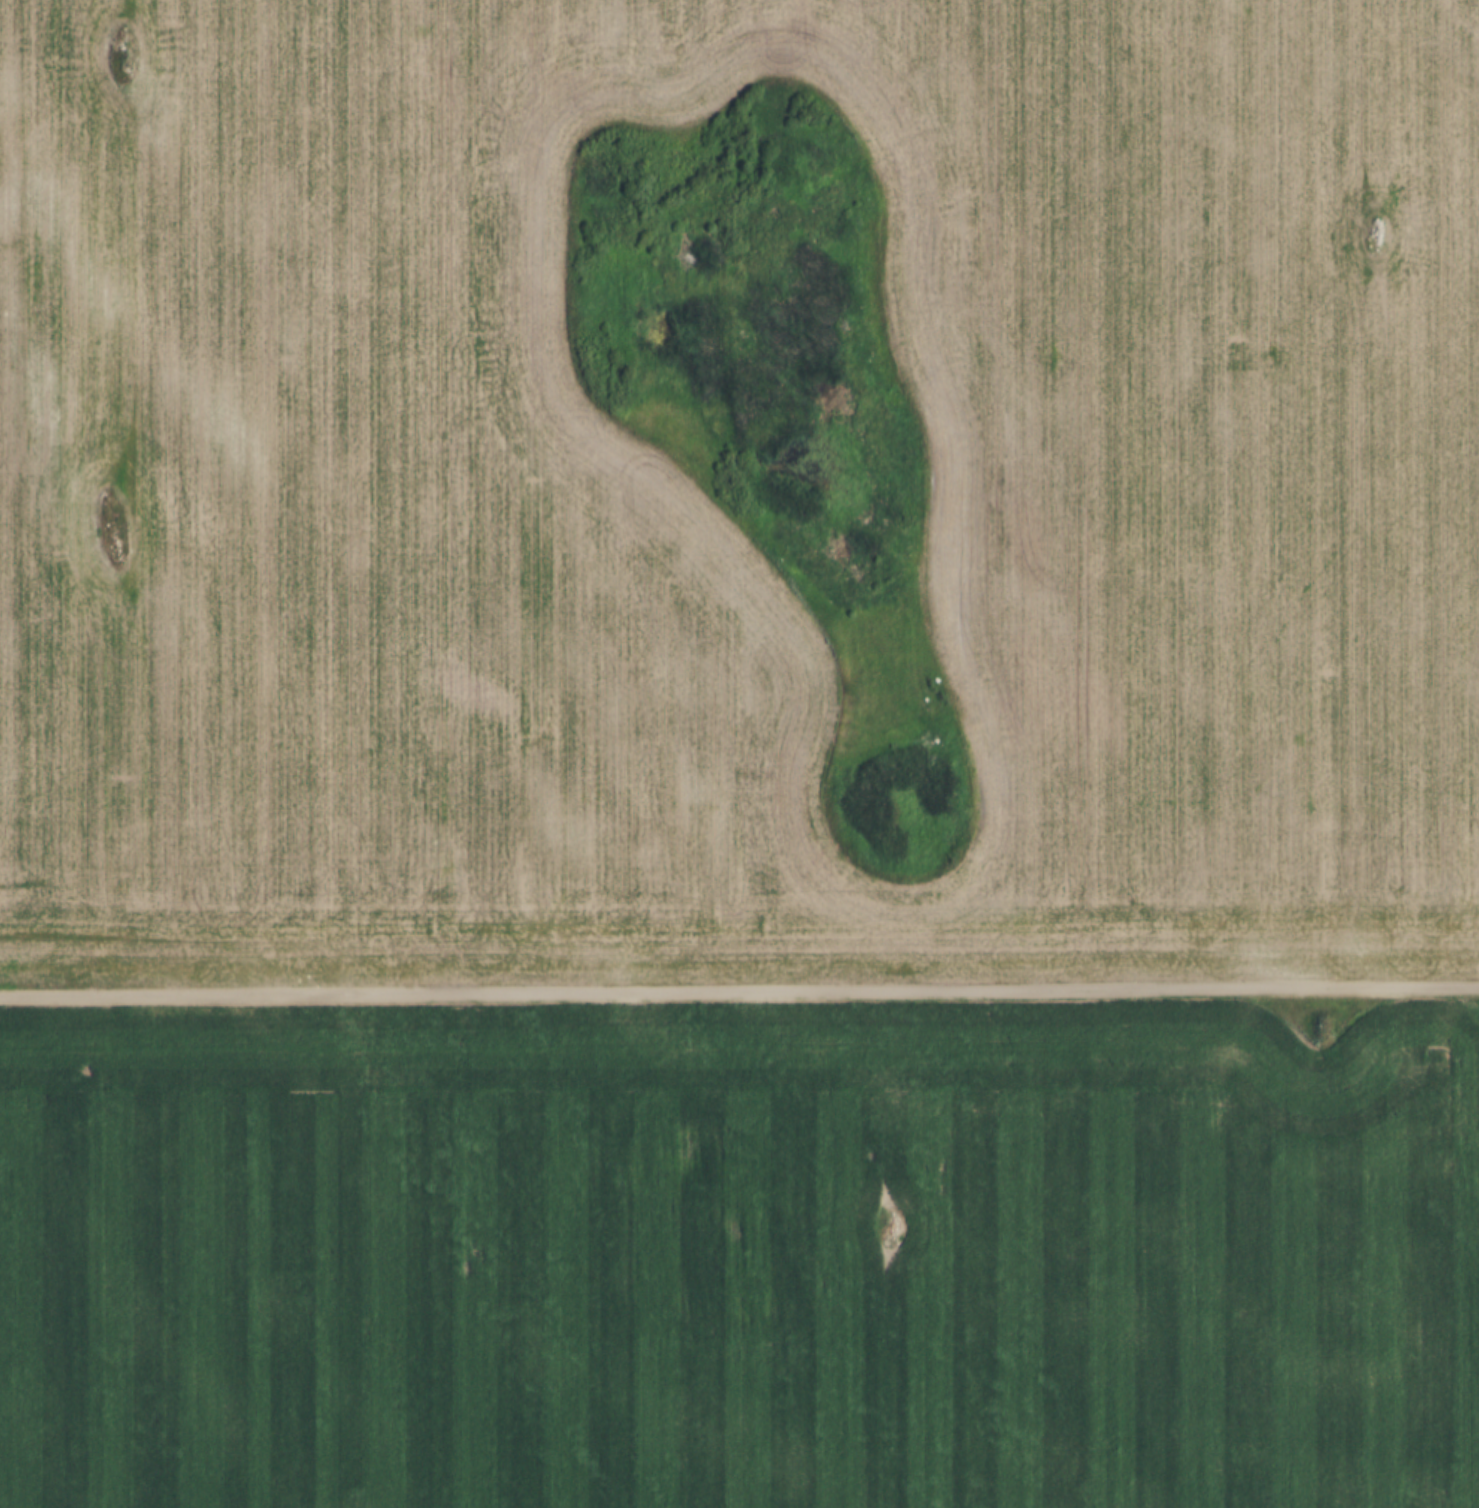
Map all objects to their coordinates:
road: (739, 991)

